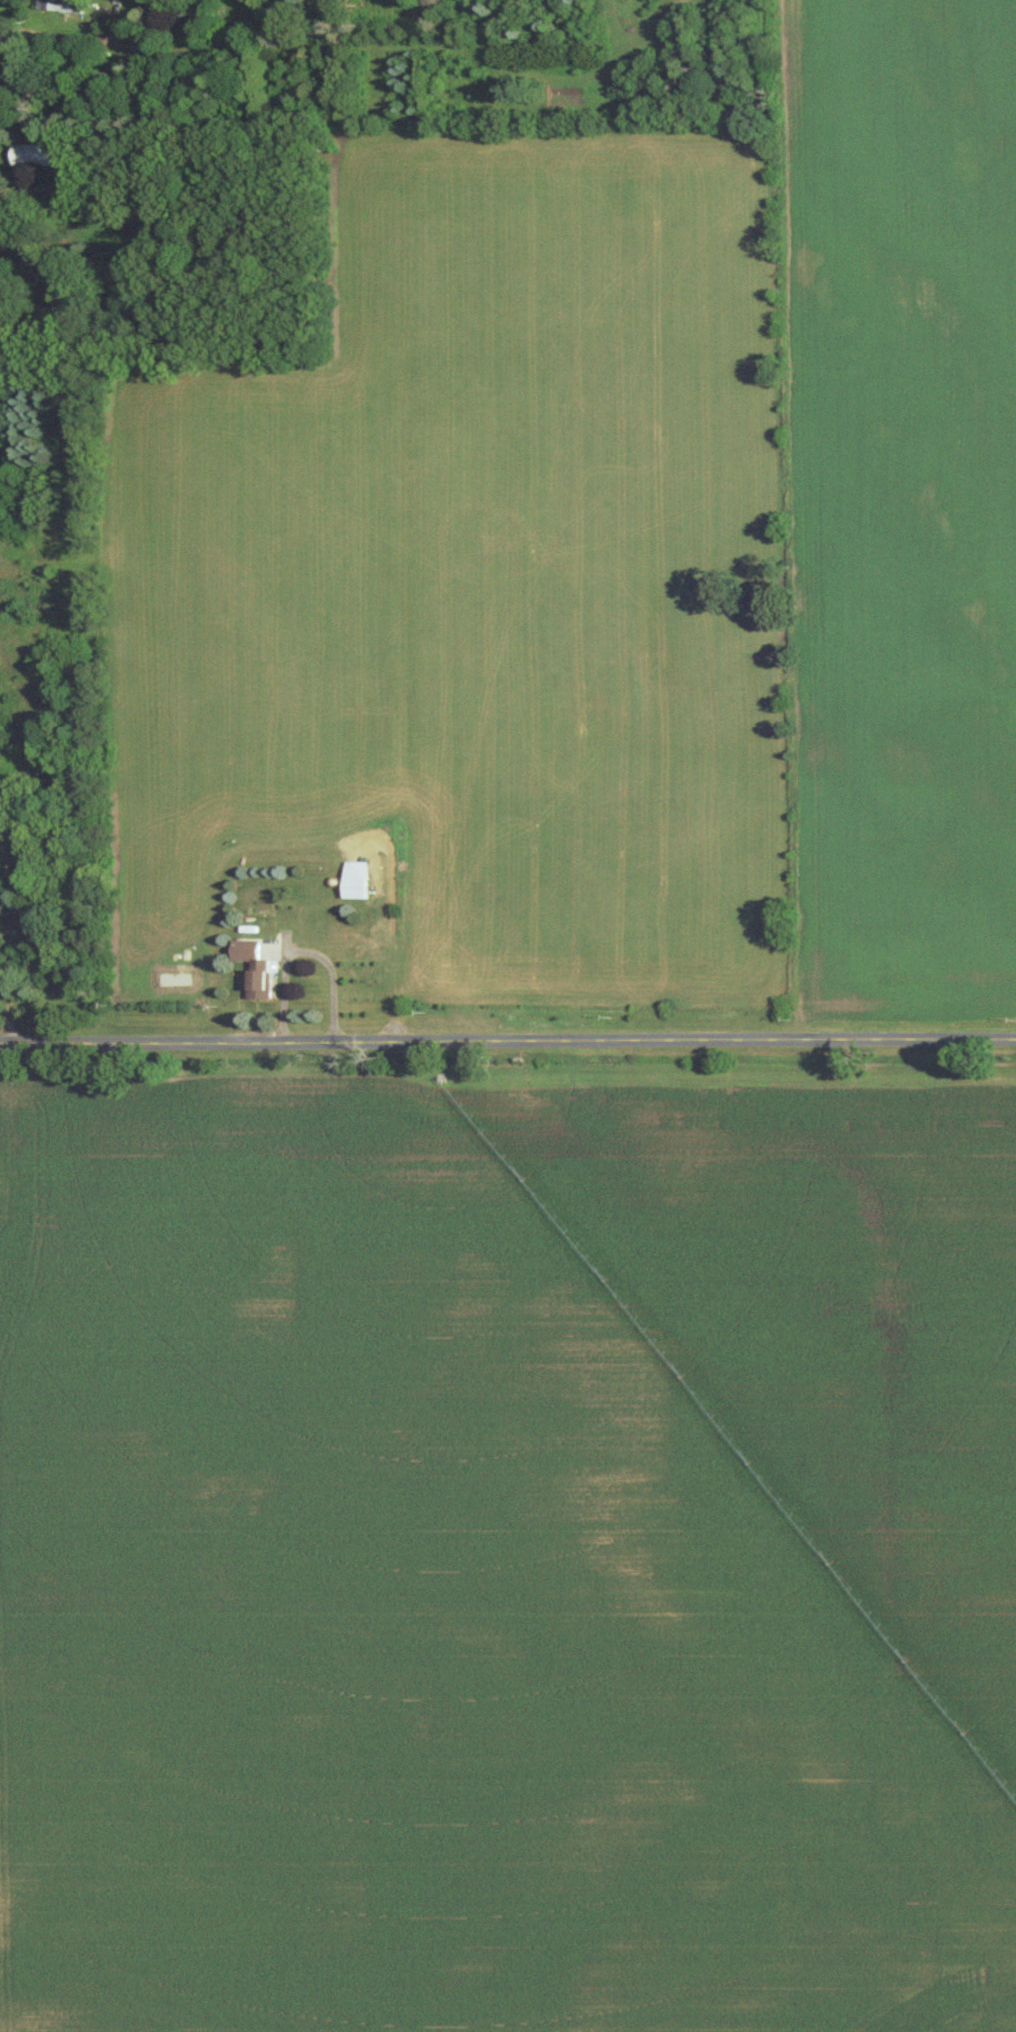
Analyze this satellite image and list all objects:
building: (62, 5)
road: (66, 38)
building: (36, 153)
road: (13, 187)
building: (360, 879)
road: (8, 939)
road: (309, 954)
building: (259, 966)
road: (507, 1044)
crop: (506, 1559)

